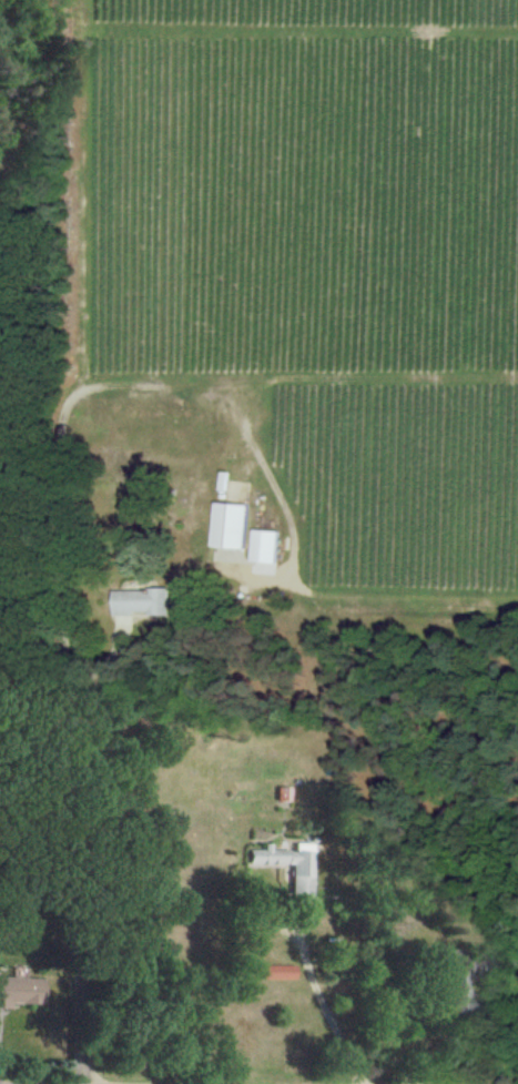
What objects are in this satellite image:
building: (226, 526)
building: (262, 546)
building: (142, 601)
road: (65, 661)
building: (302, 880)
building: (278, 972)
building: (453, 989)
building: (18, 991)
road: (326, 1010)

